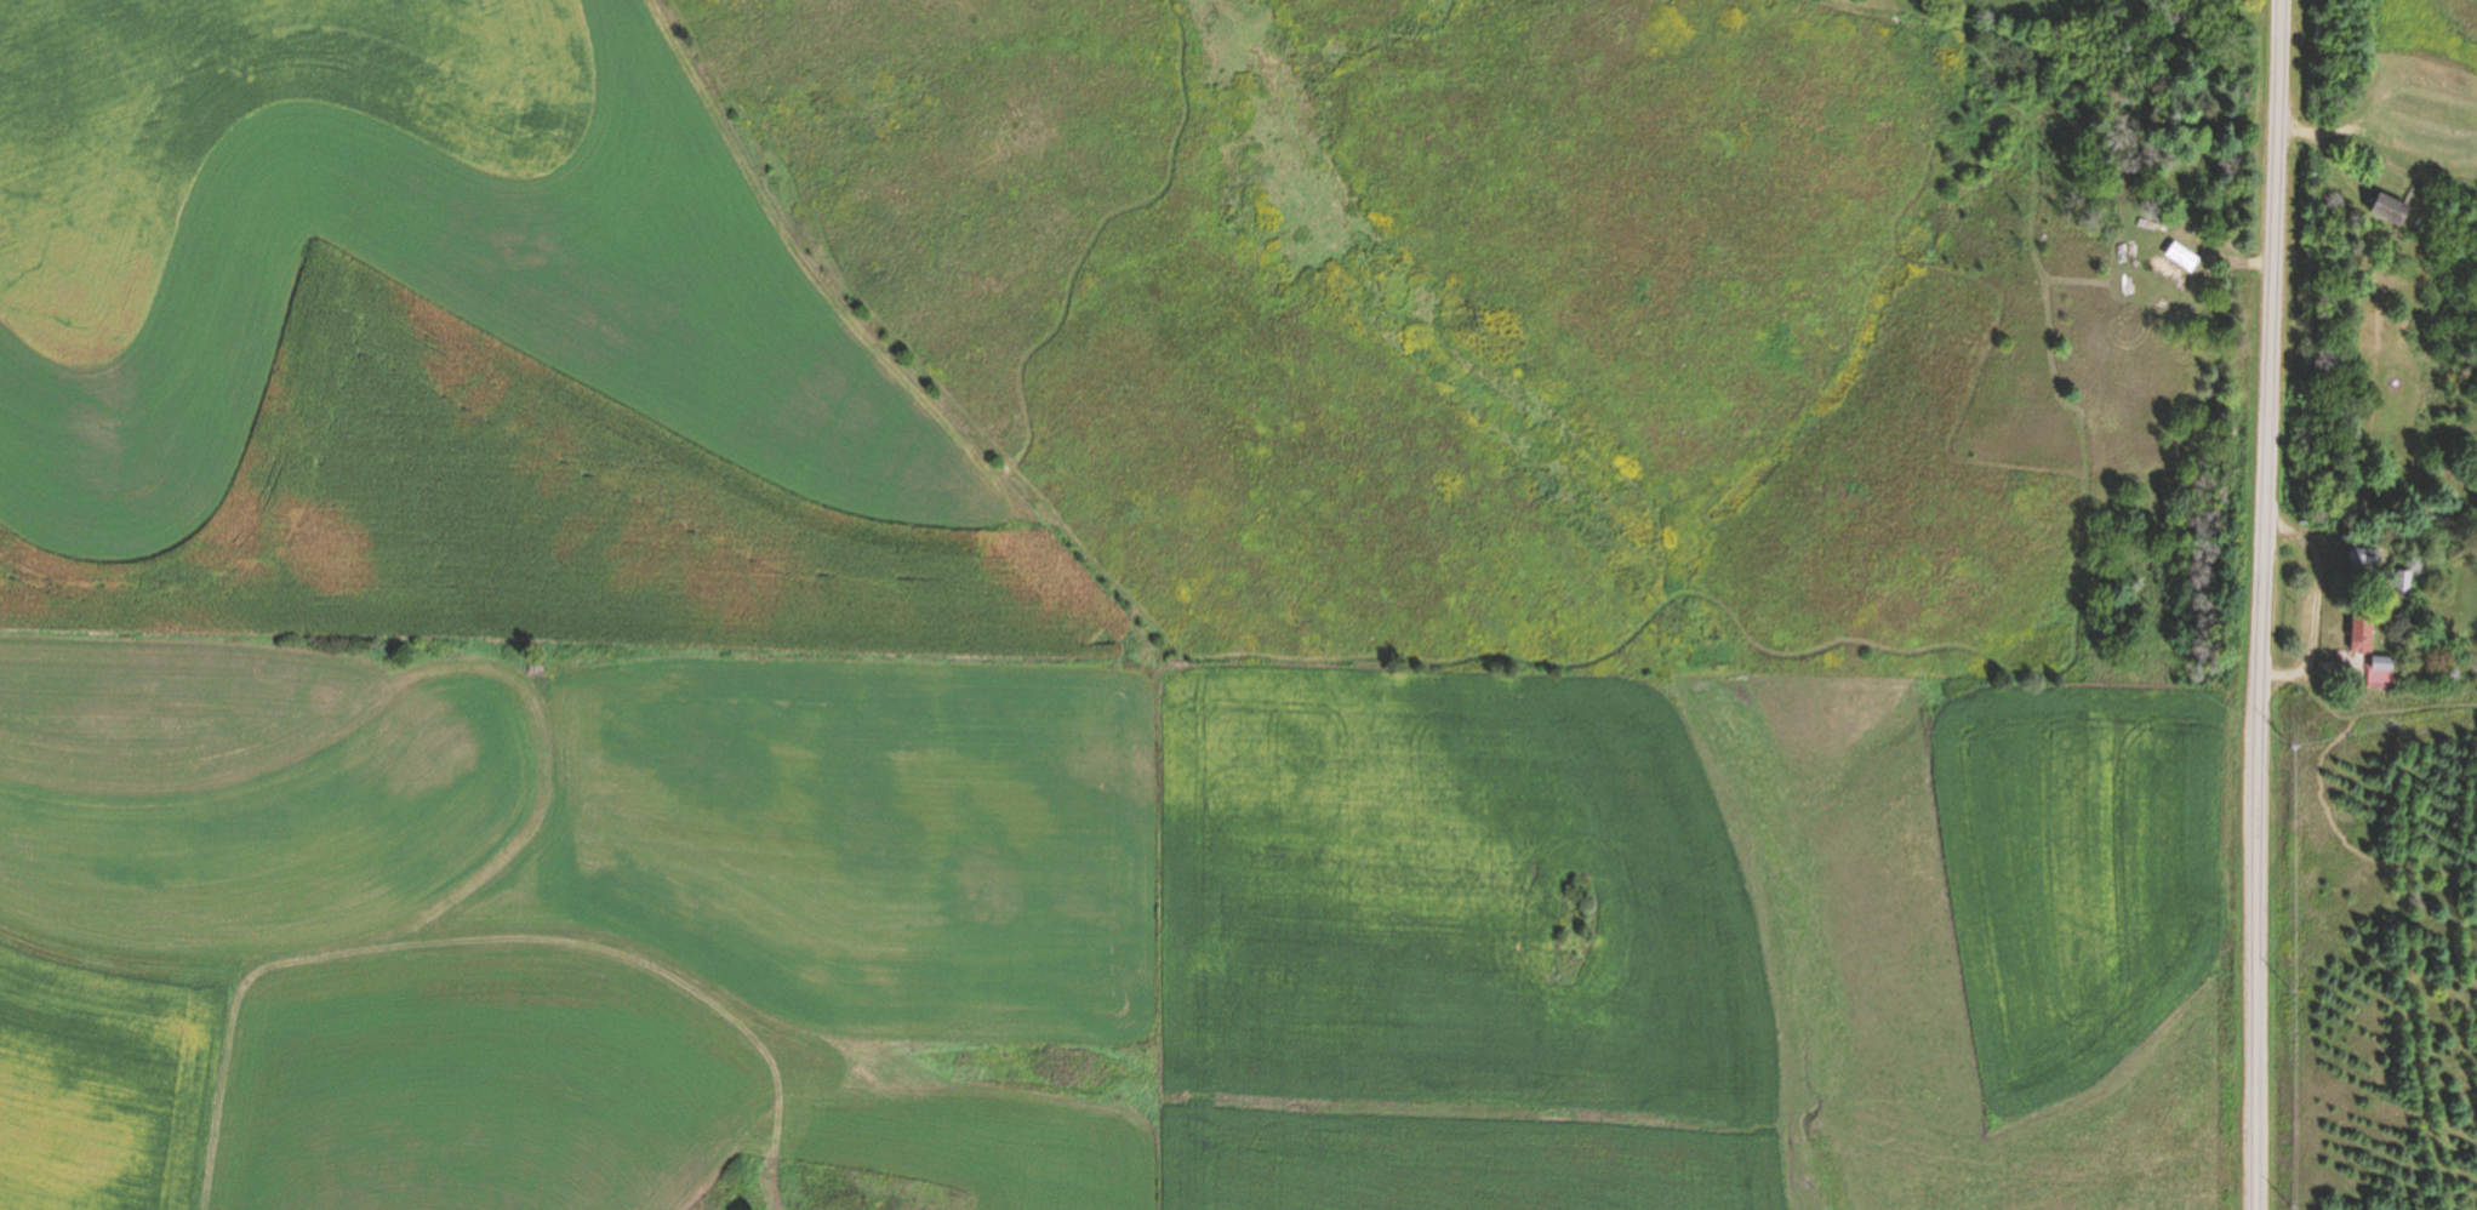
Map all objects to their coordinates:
building: (2388, 209)
road: (2369, 263)
building: (2363, 557)
building: (2403, 580)
road: (2262, 604)
road: (2318, 605)
building: (2361, 632)
building: (2381, 669)

